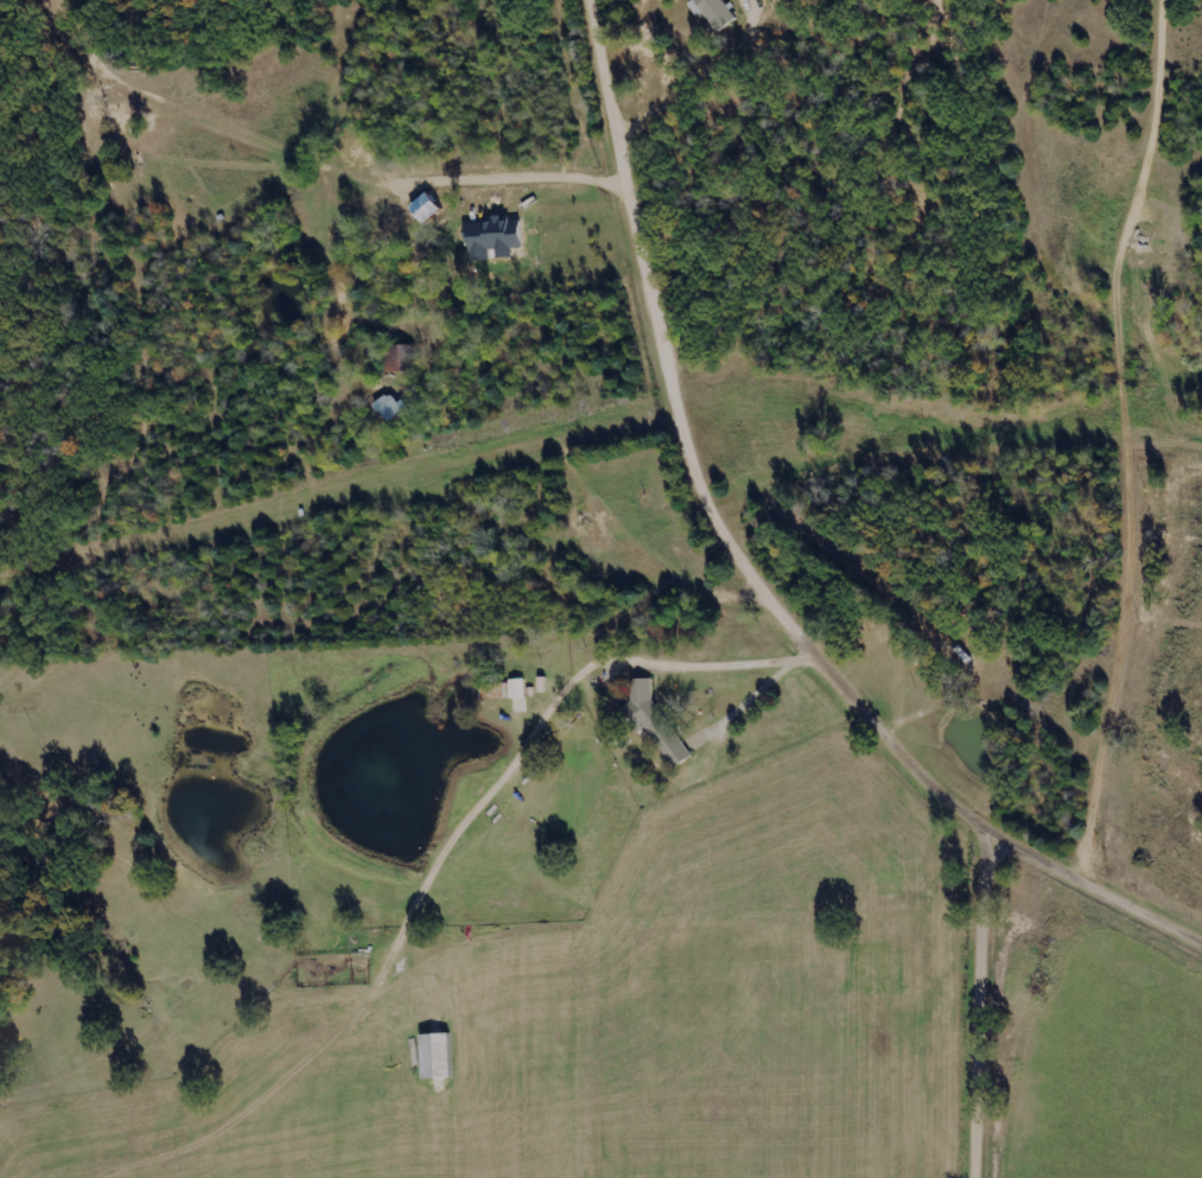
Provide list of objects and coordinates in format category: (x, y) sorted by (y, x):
building: (716, 12)
building: (400, 358)
building: (390, 407)
road: (756, 566)
building: (657, 722)
road: (986, 1005)
building: (440, 1056)

